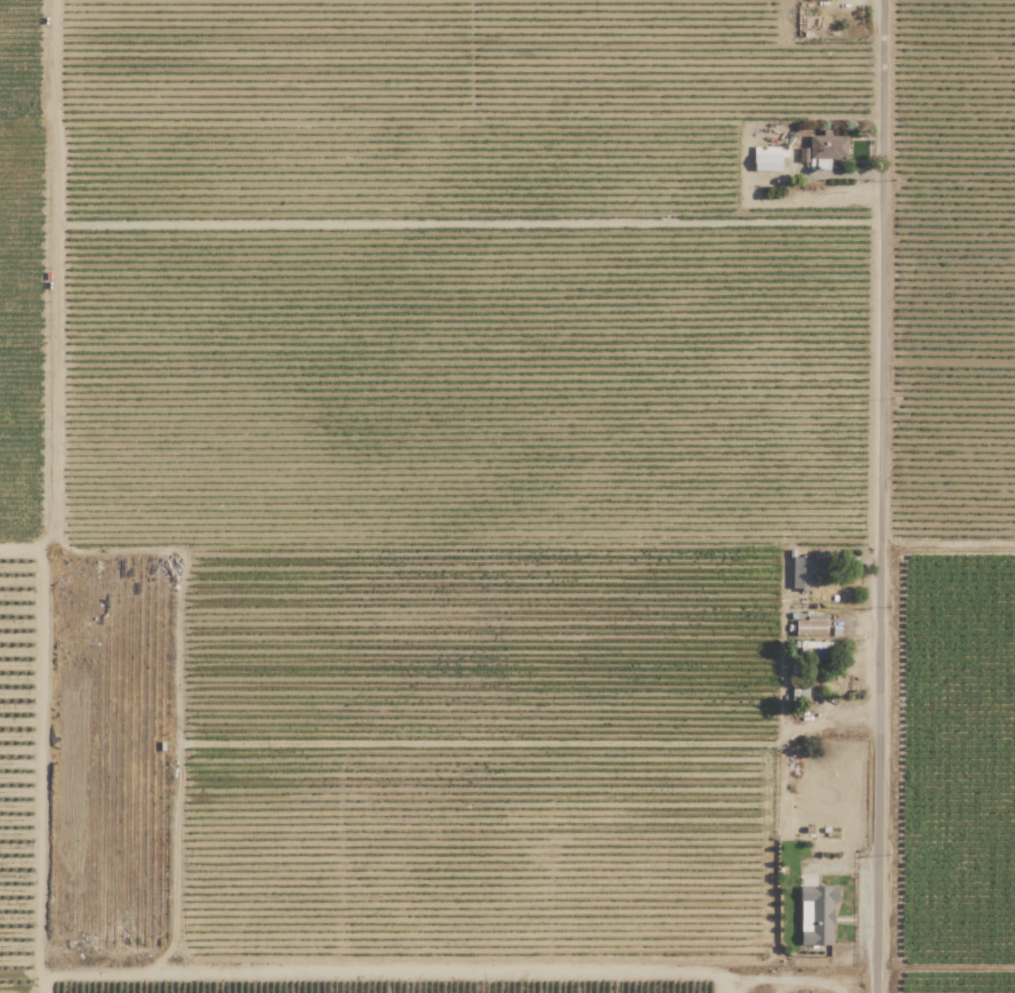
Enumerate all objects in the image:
building: (827, 147)
building: (802, 155)
building: (766, 159)
road: (883, 496)
building: (800, 574)
road: (785, 582)
building: (811, 626)
road: (855, 705)
building: (816, 914)
road: (721, 988)

